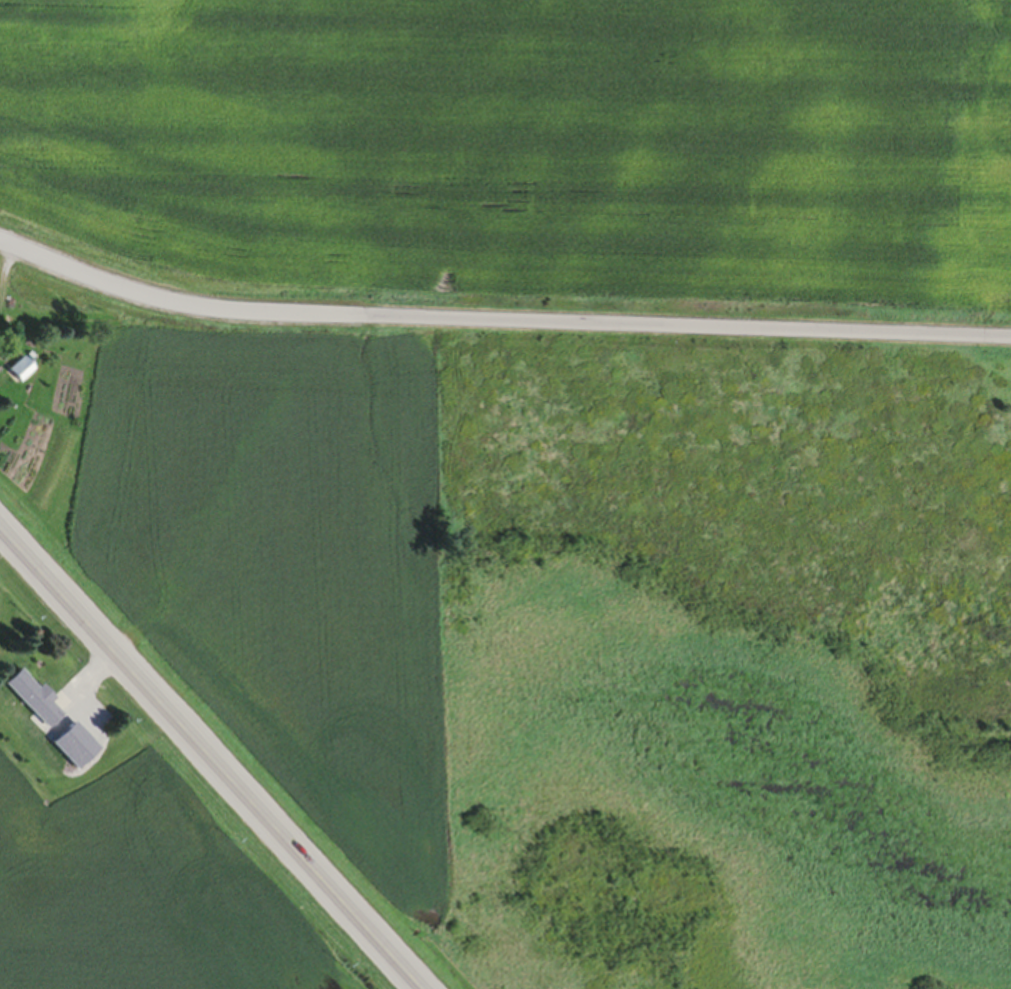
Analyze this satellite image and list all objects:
road: (497, 320)
building: (19, 373)
building: (35, 705)
building: (78, 751)
road: (220, 753)

